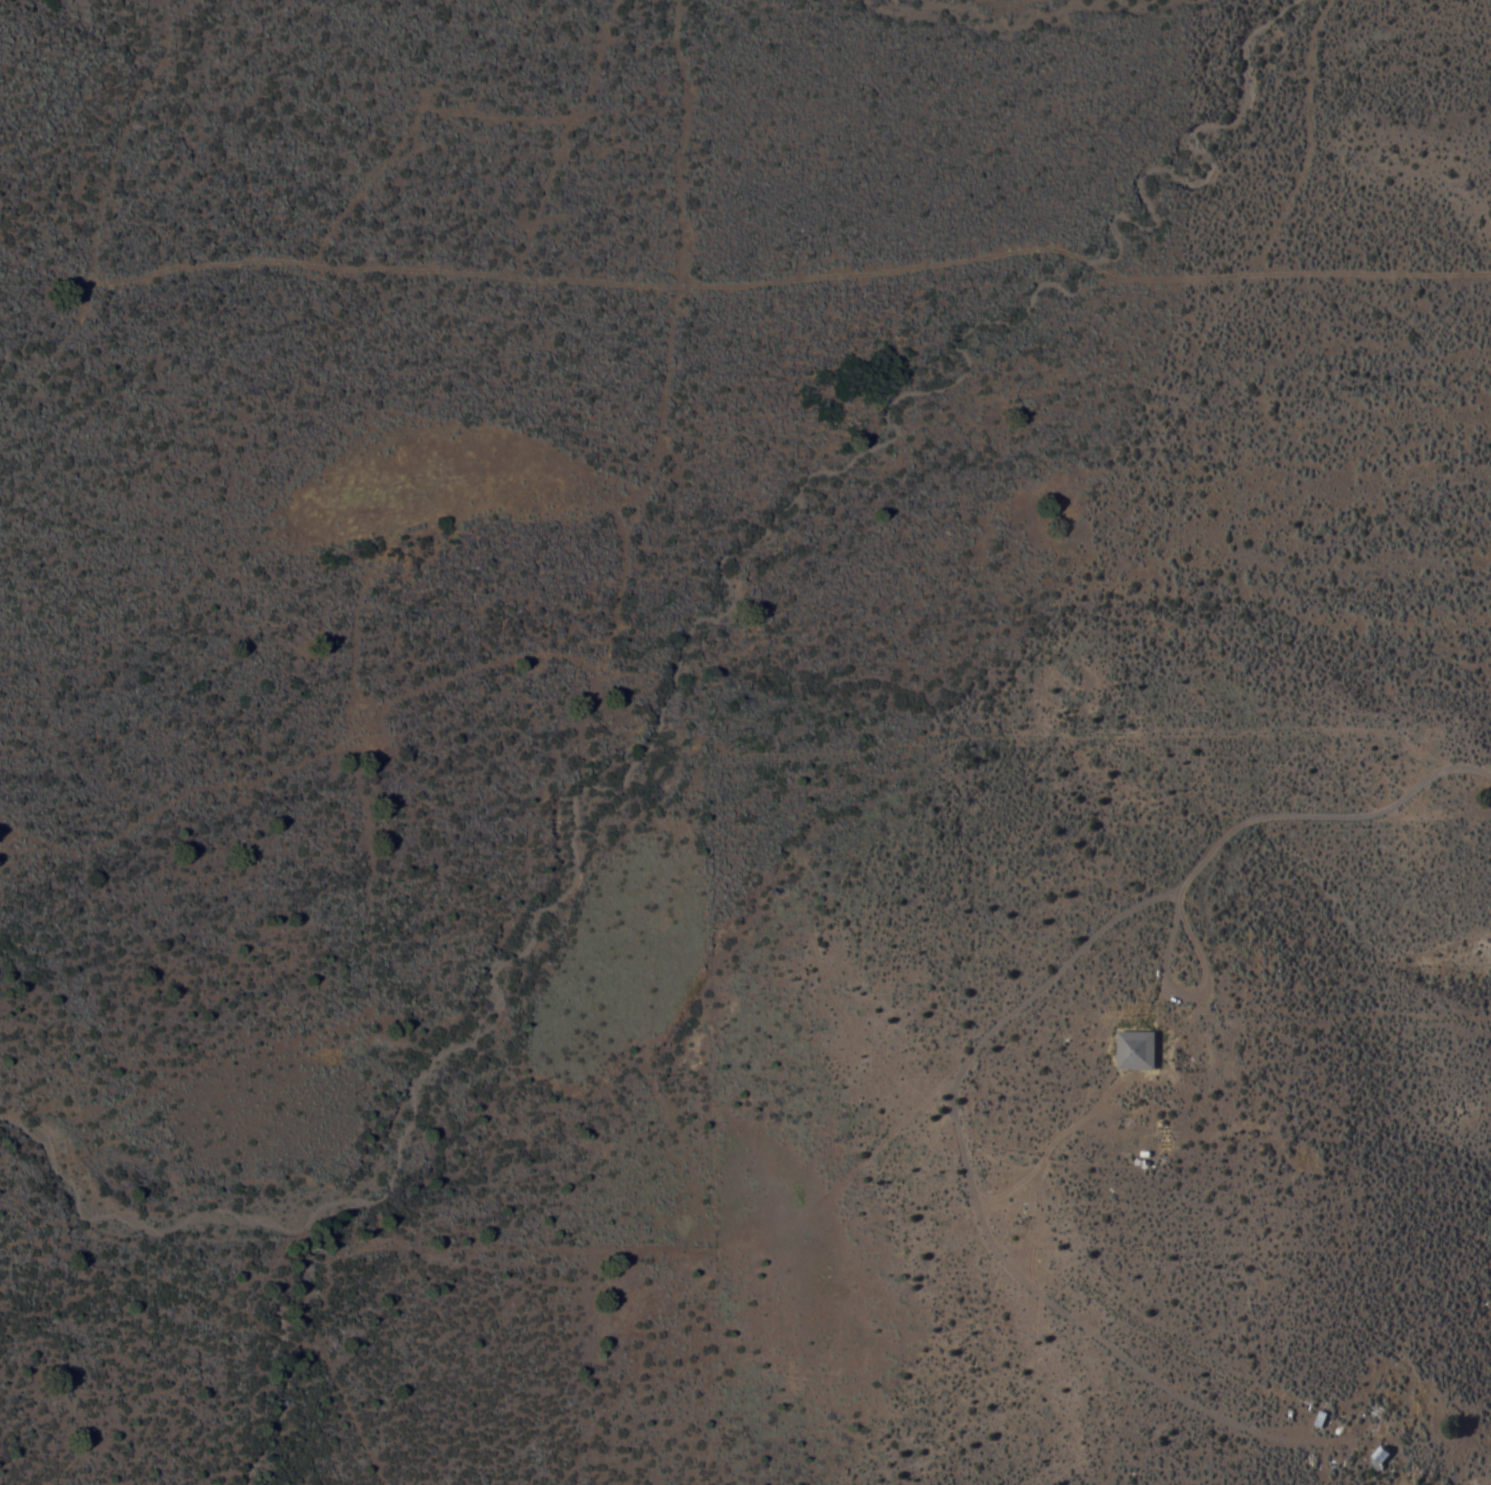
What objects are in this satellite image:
road: (231, 1307)

